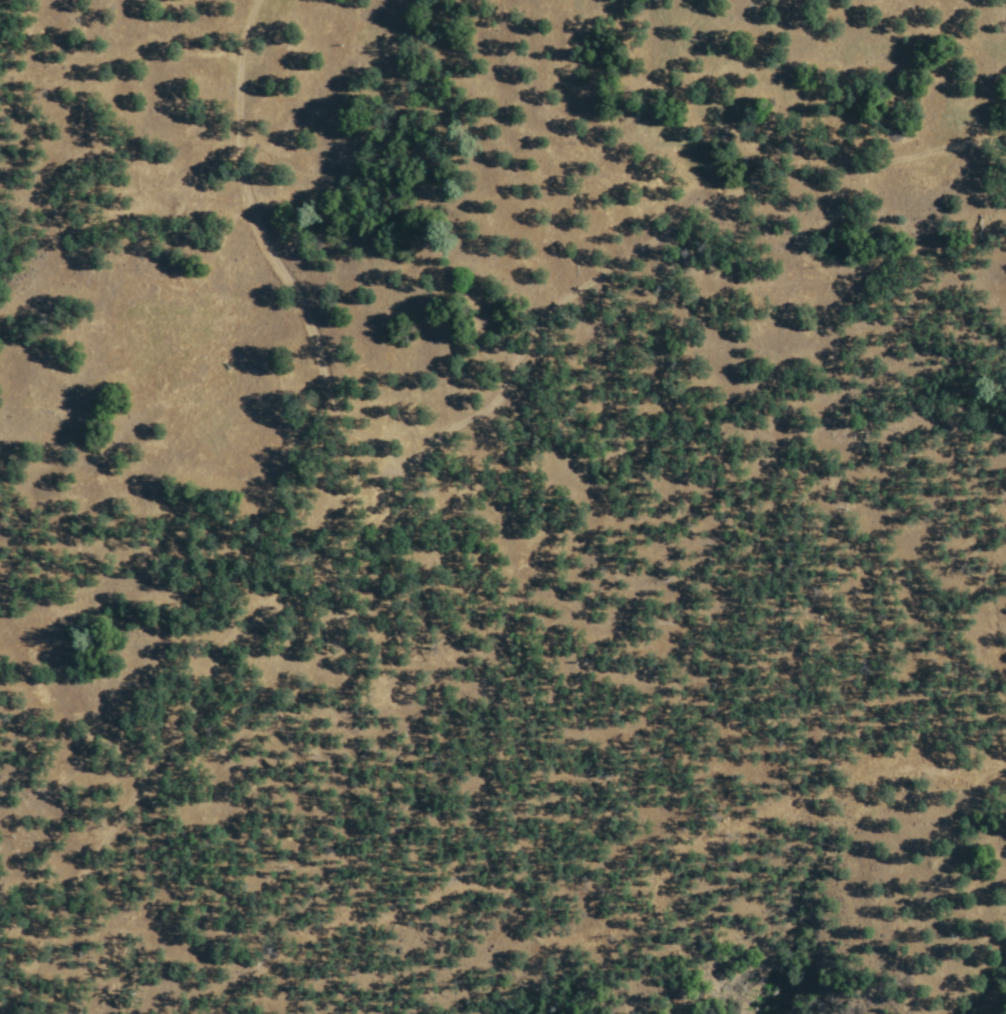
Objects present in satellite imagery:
road: (670, 224)

